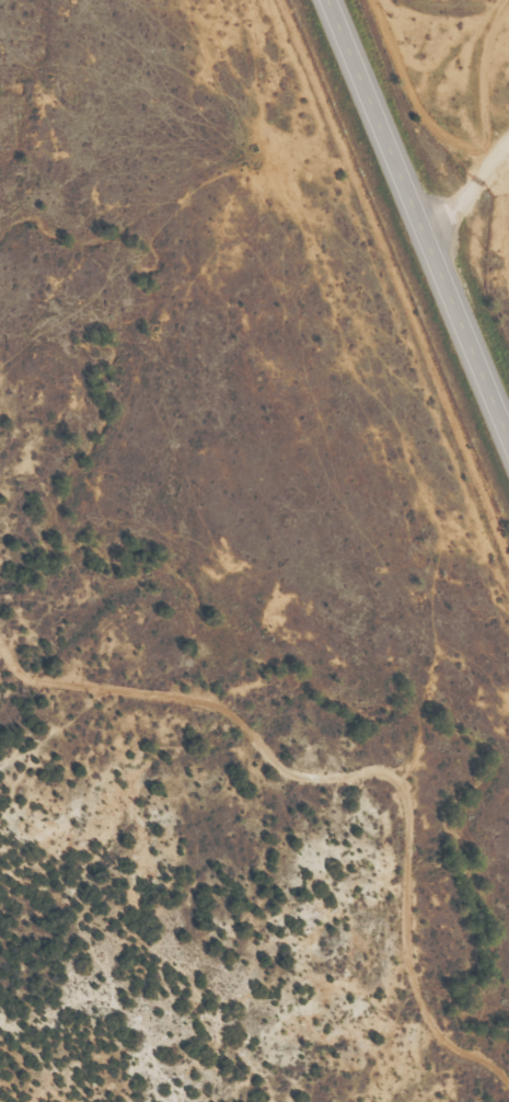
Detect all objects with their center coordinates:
road: (482, 78)
road: (418, 96)
road: (467, 195)
road: (501, 213)
road: (419, 217)
road: (394, 283)

